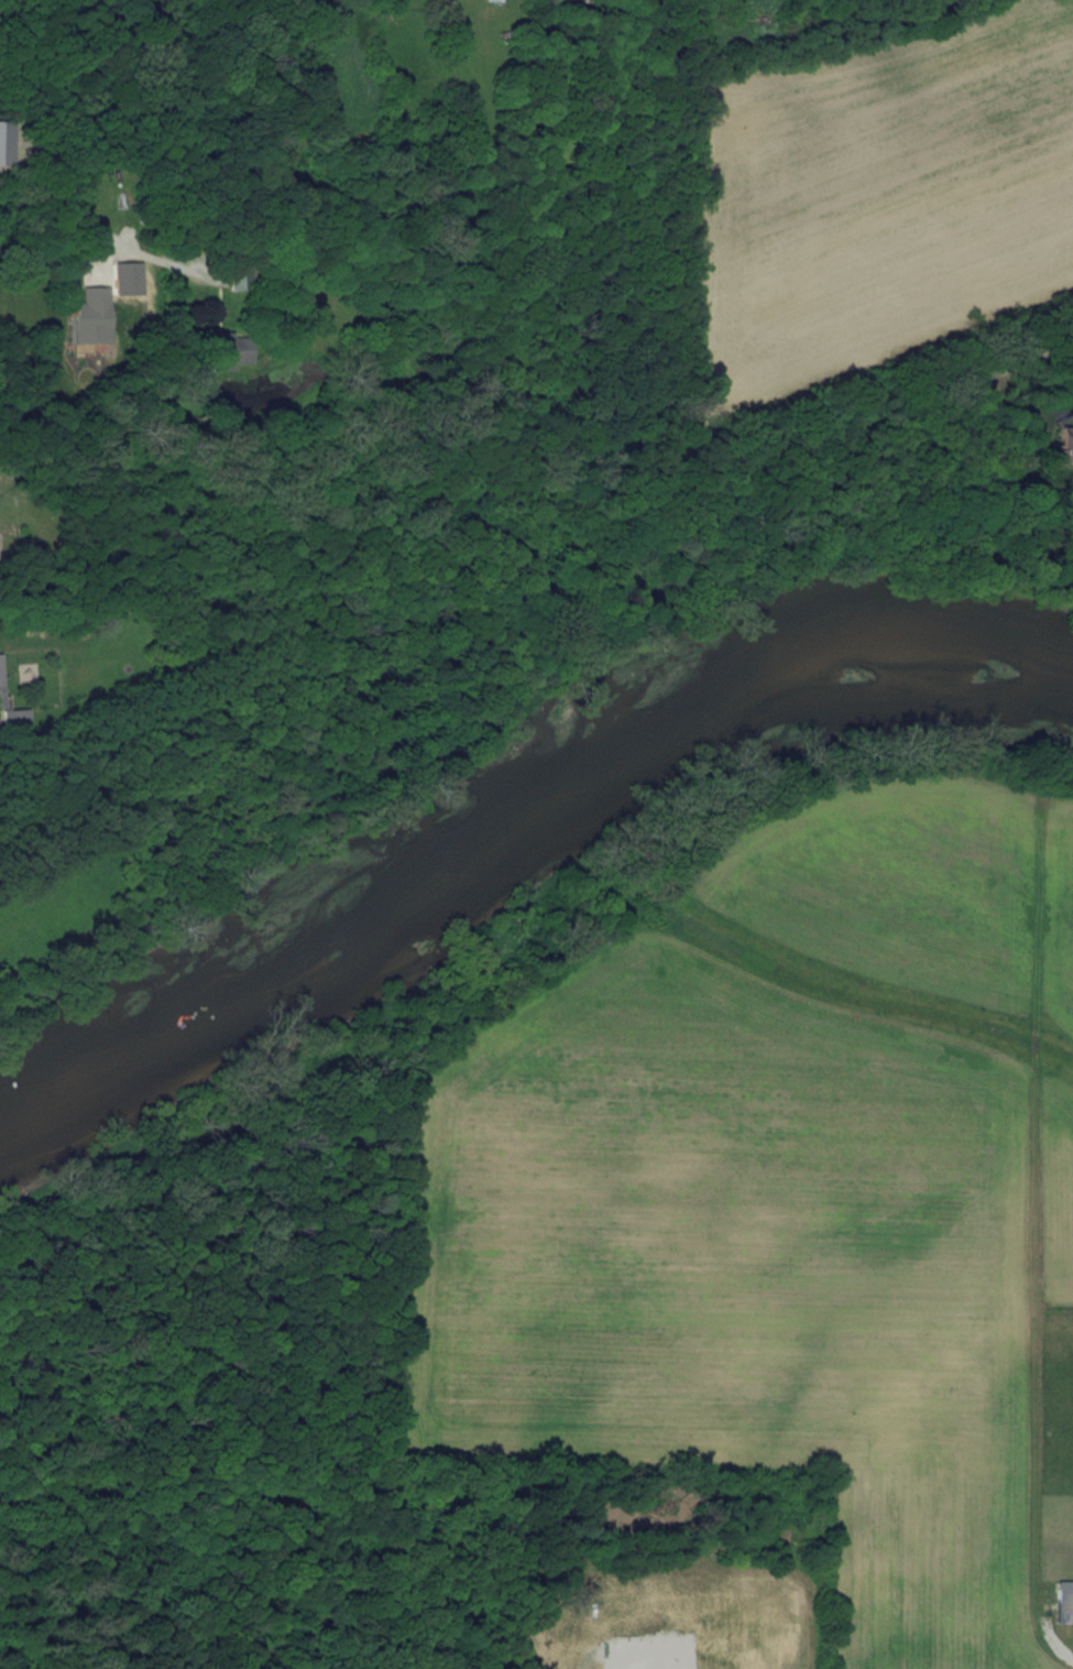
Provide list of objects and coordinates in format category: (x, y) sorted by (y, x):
building: (6, 144)
road: (56, 253)
building: (240, 277)
building: (88, 318)
building: (228, 351)
building: (1065, 445)
building: (11, 712)
river: (511, 798)
building: (1064, 1602)

